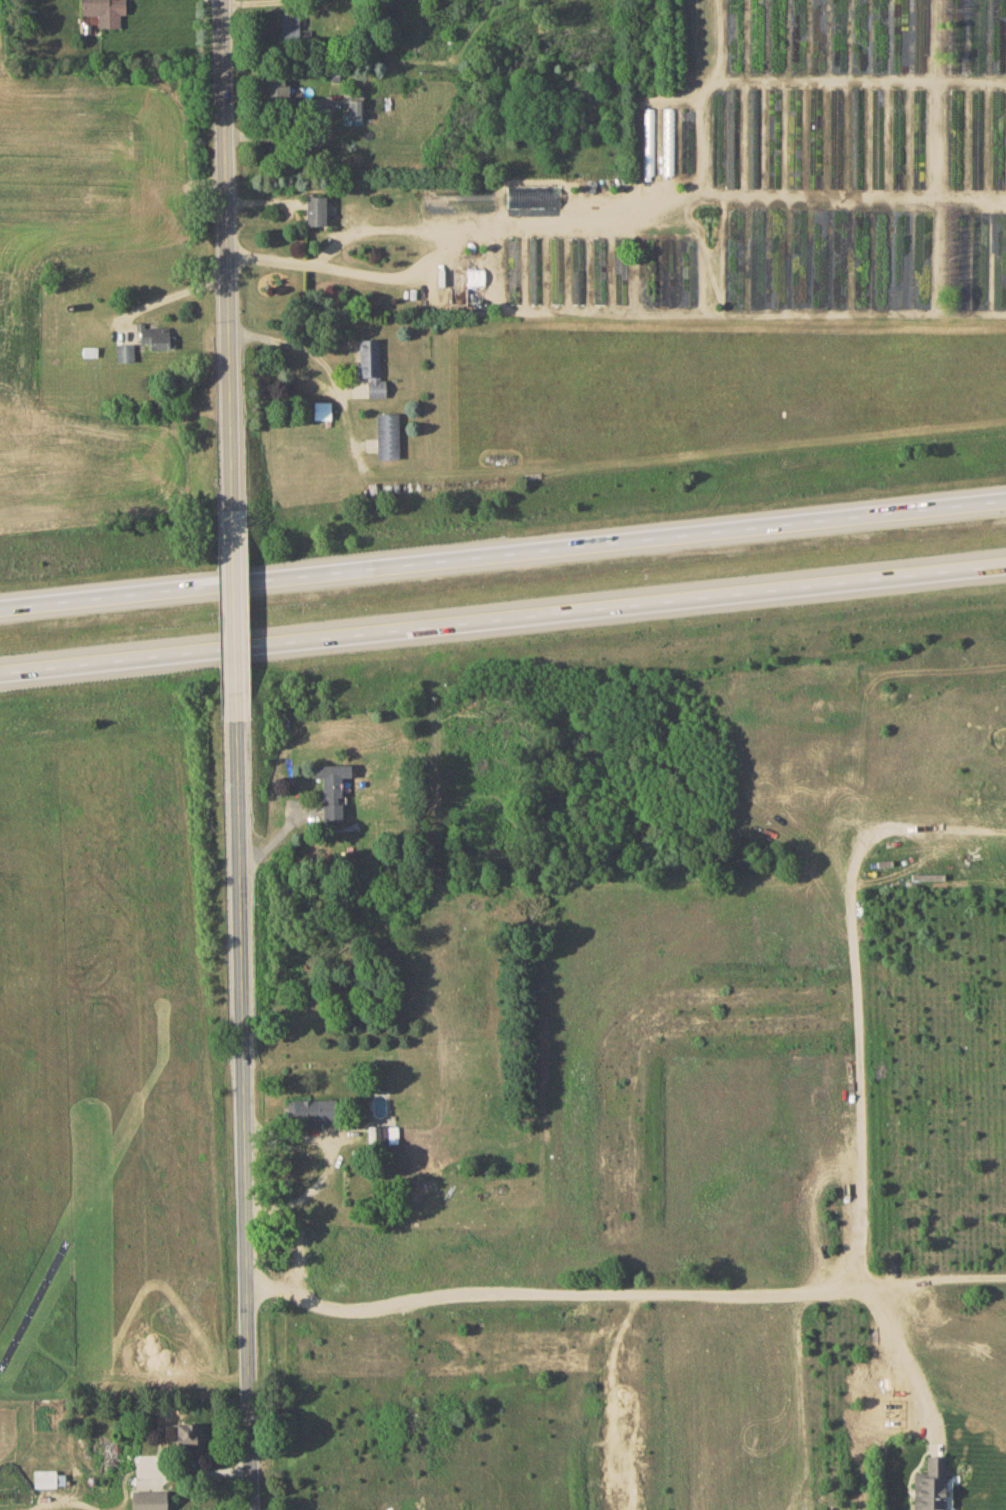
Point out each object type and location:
building: (104, 11)
building: (289, 28)
building: (279, 91)
building: (354, 107)
building: (668, 140)
building: (532, 196)
building: (315, 210)
road: (440, 251)
road: (232, 260)
road: (168, 296)
building: (155, 336)
road: (296, 346)
building: (371, 367)
building: (321, 410)
road: (503, 557)
road: (503, 618)
road: (238, 622)
building: (332, 787)
road: (851, 993)
building: (311, 1109)
road: (244, 1117)
building: (382, 1134)
road: (322, 1151)
road: (261, 1210)
road: (295, 1248)
road: (621, 1297)
building: (183, 1434)
building: (49, 1478)
building: (929, 1485)
building: (148, 1500)

